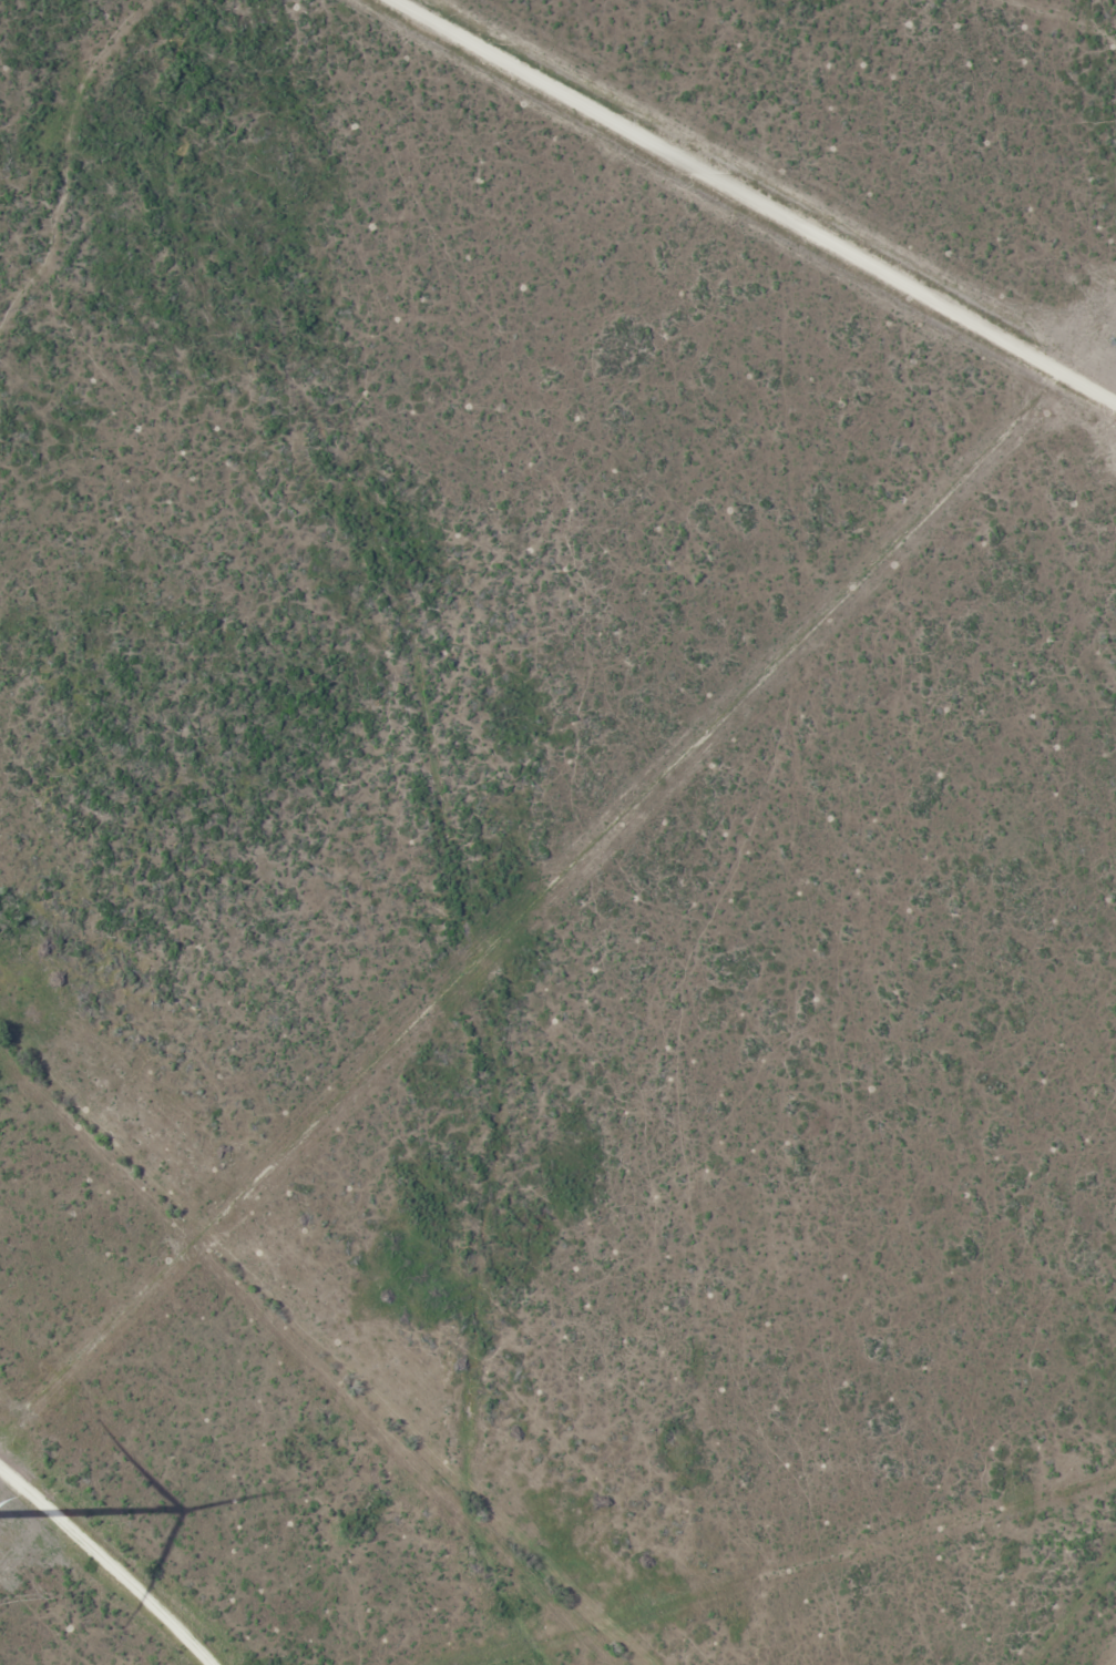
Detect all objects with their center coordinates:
road: (65, 1594)

